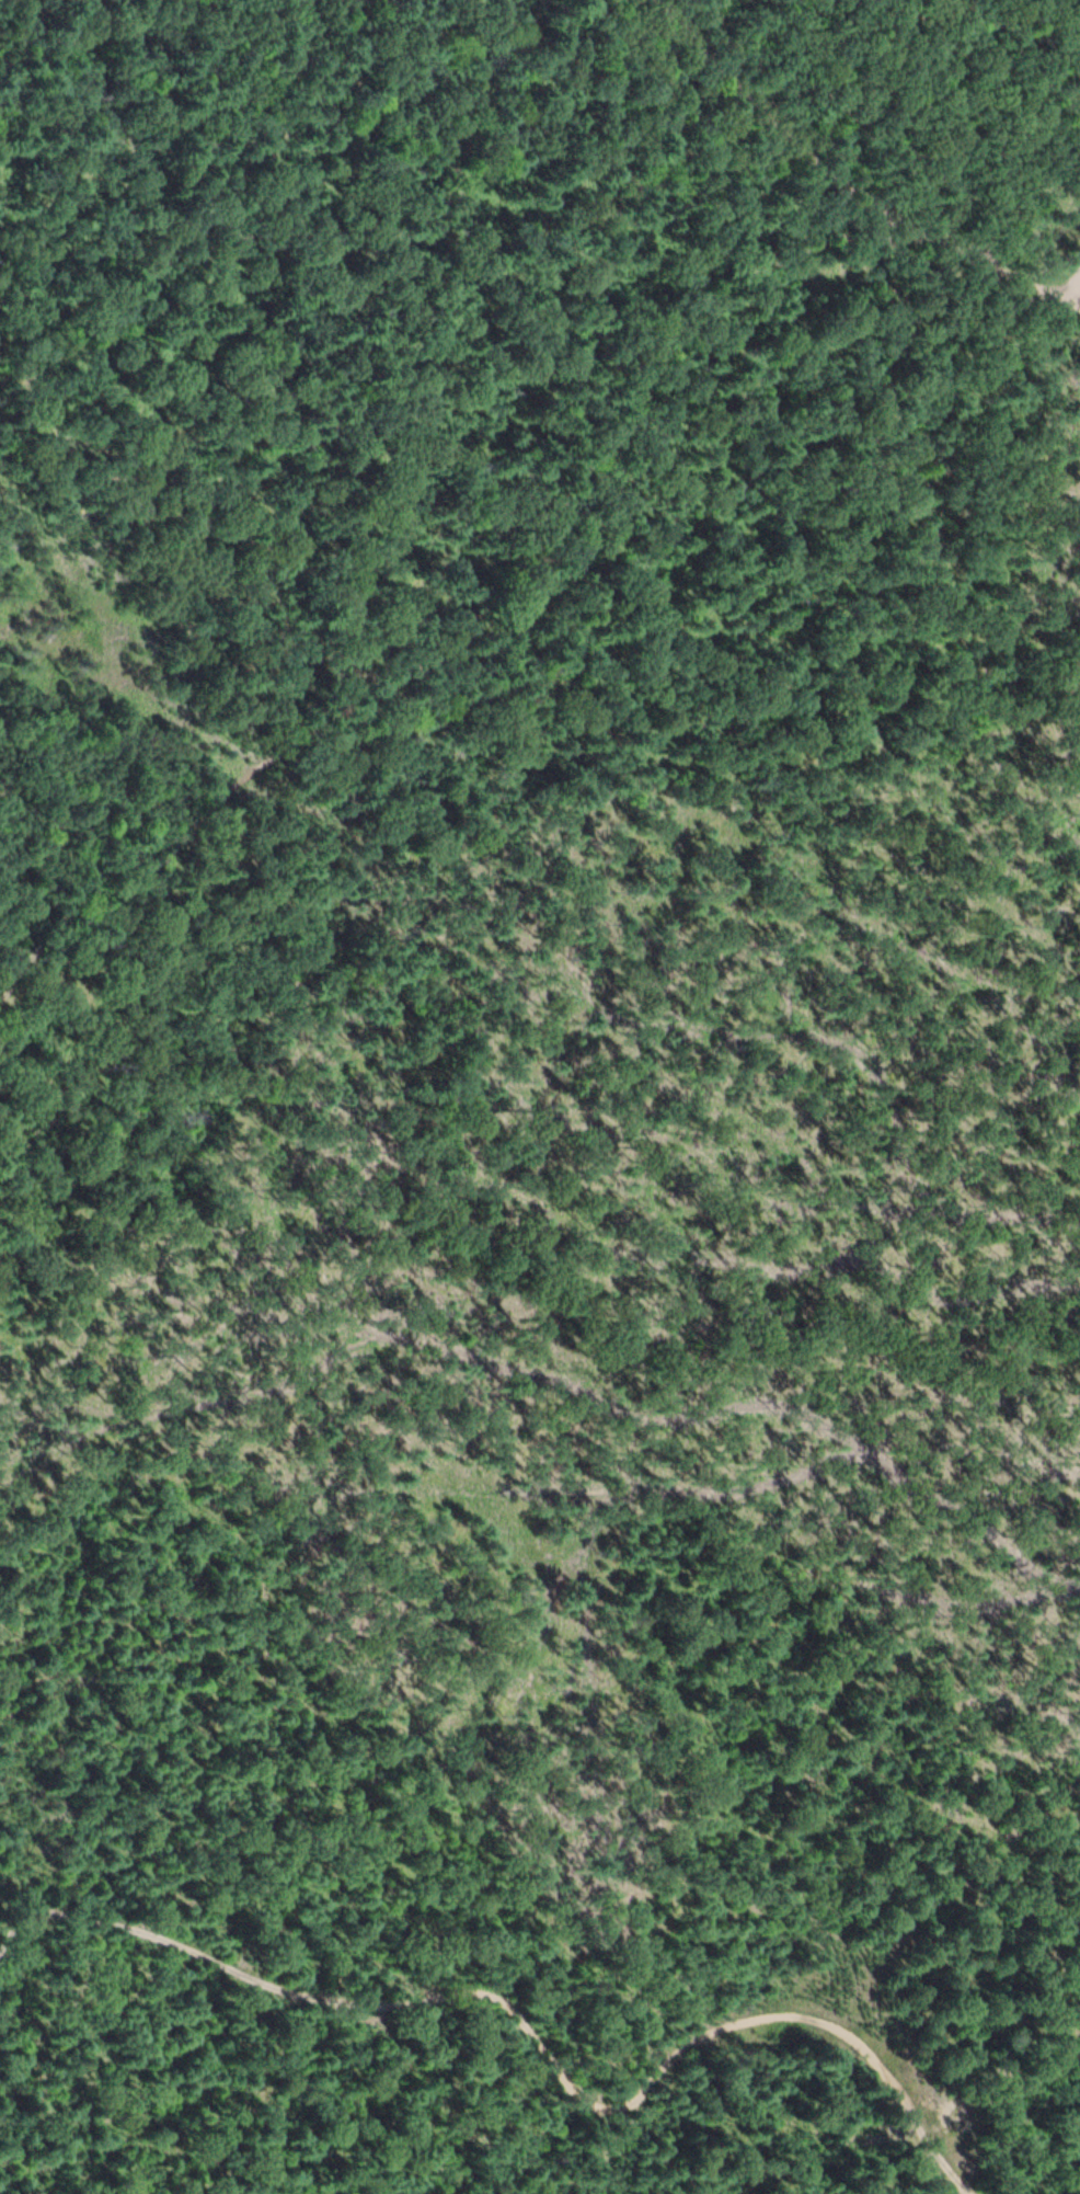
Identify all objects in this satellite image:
road: (842, 187)
road: (958, 374)
road: (554, 515)
road: (279, 855)
road: (189, 1947)
road: (690, 2044)

